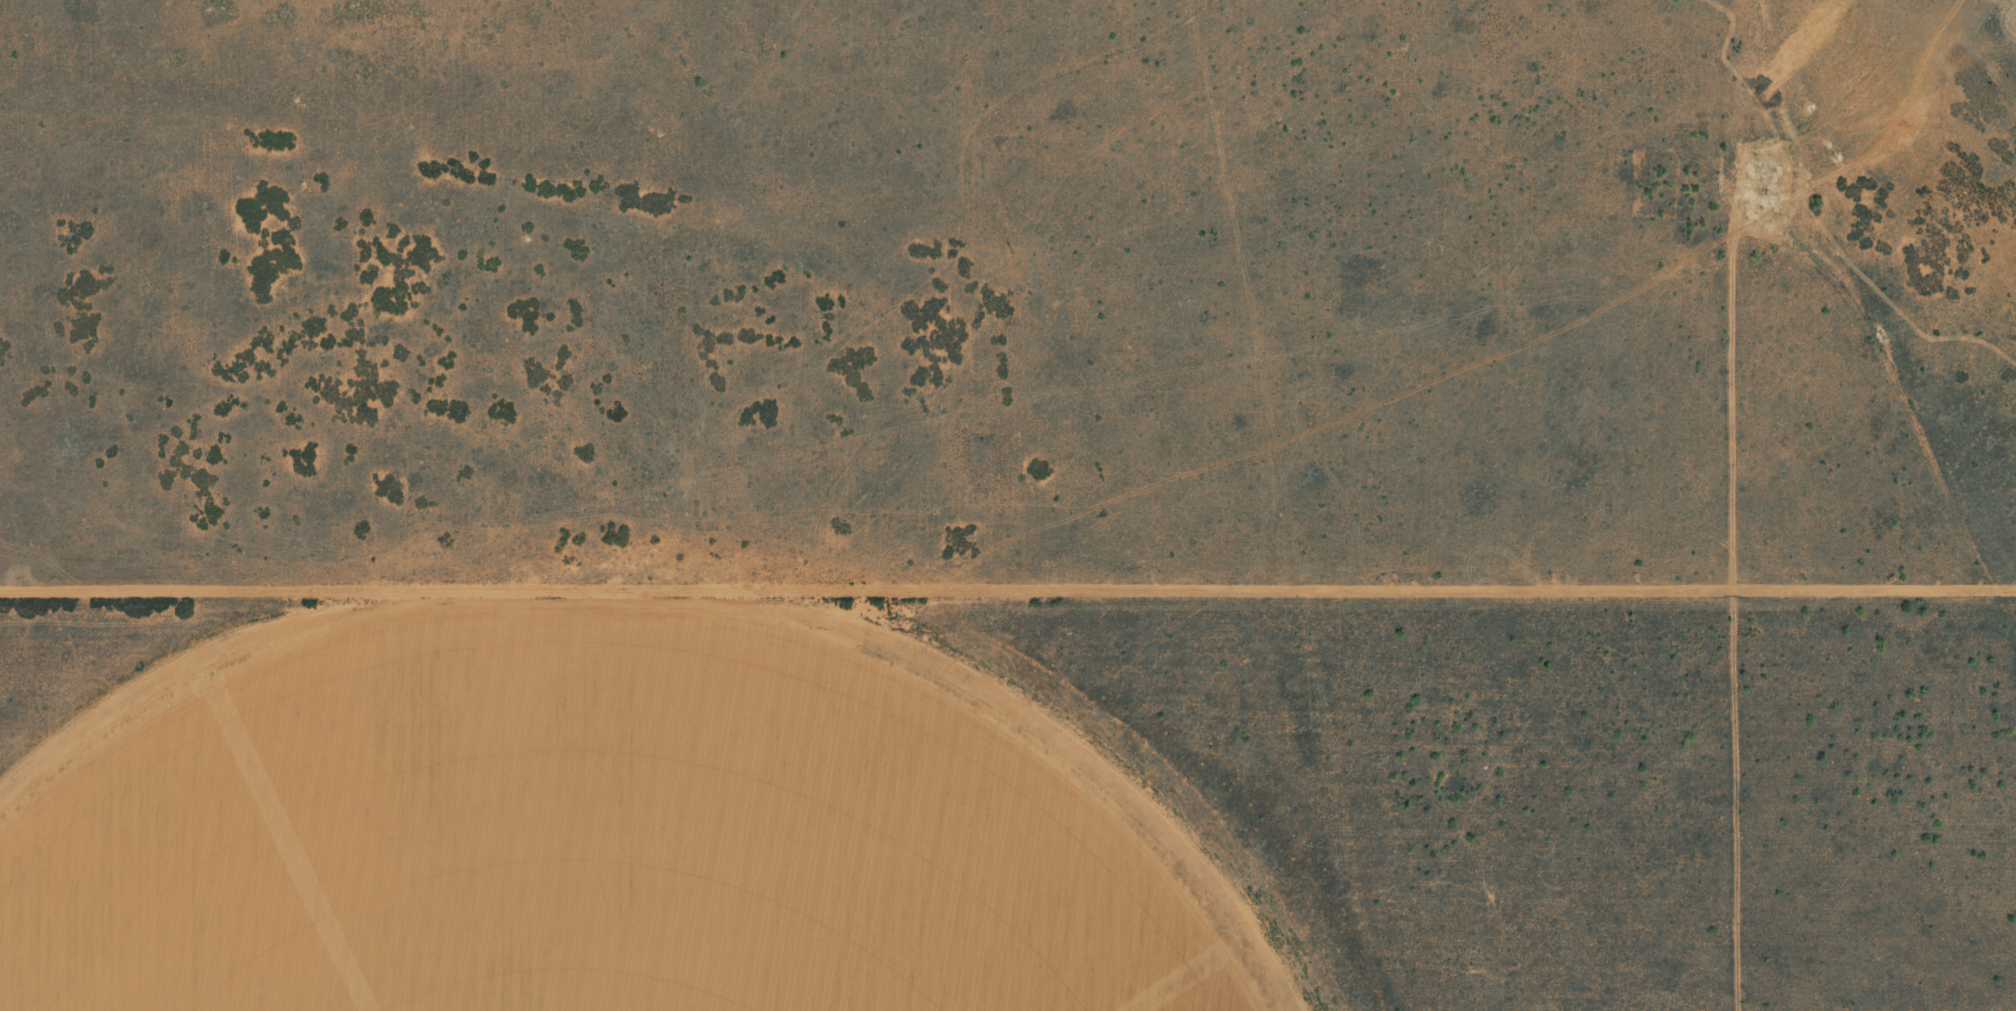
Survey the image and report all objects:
road: (1889, 462)

